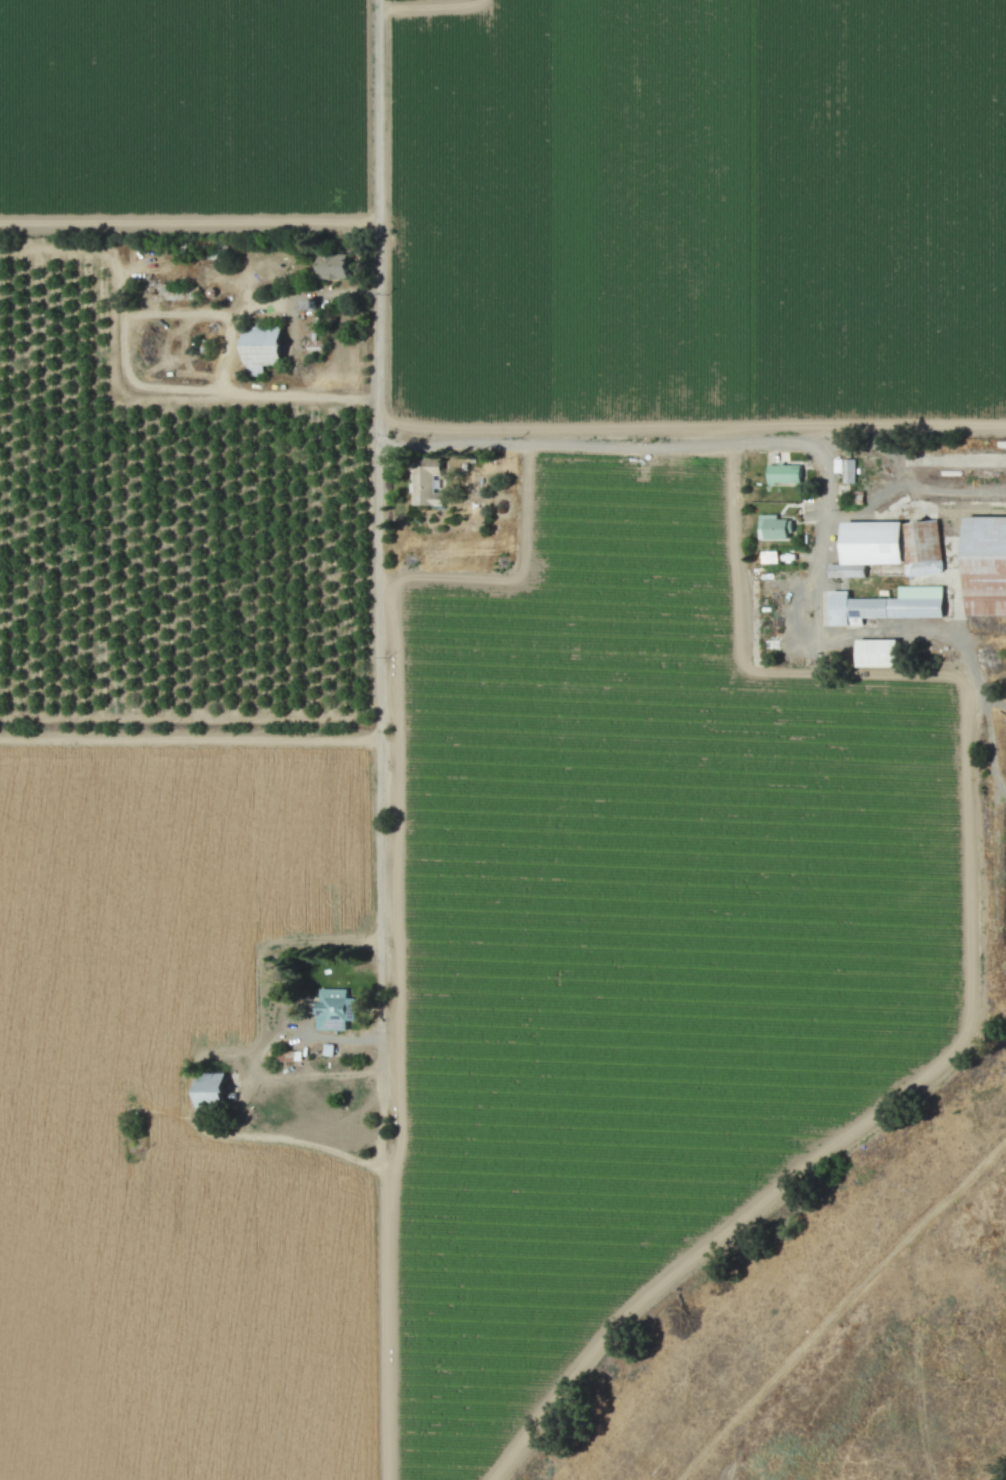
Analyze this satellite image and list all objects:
building: (336, 266)
road: (306, 296)
building: (265, 349)
road: (260, 396)
road: (645, 442)
road: (947, 458)
building: (847, 469)
building: (786, 474)
building: (426, 487)
road: (838, 514)
building: (775, 528)
building: (892, 547)
building: (771, 557)
building: (988, 565)
road: (514, 574)
building: (891, 605)
road: (842, 636)
building: (881, 653)
road: (381, 739)
road: (264, 962)
building: (335, 1009)
road: (324, 1038)
building: (286, 1058)
building: (216, 1089)

